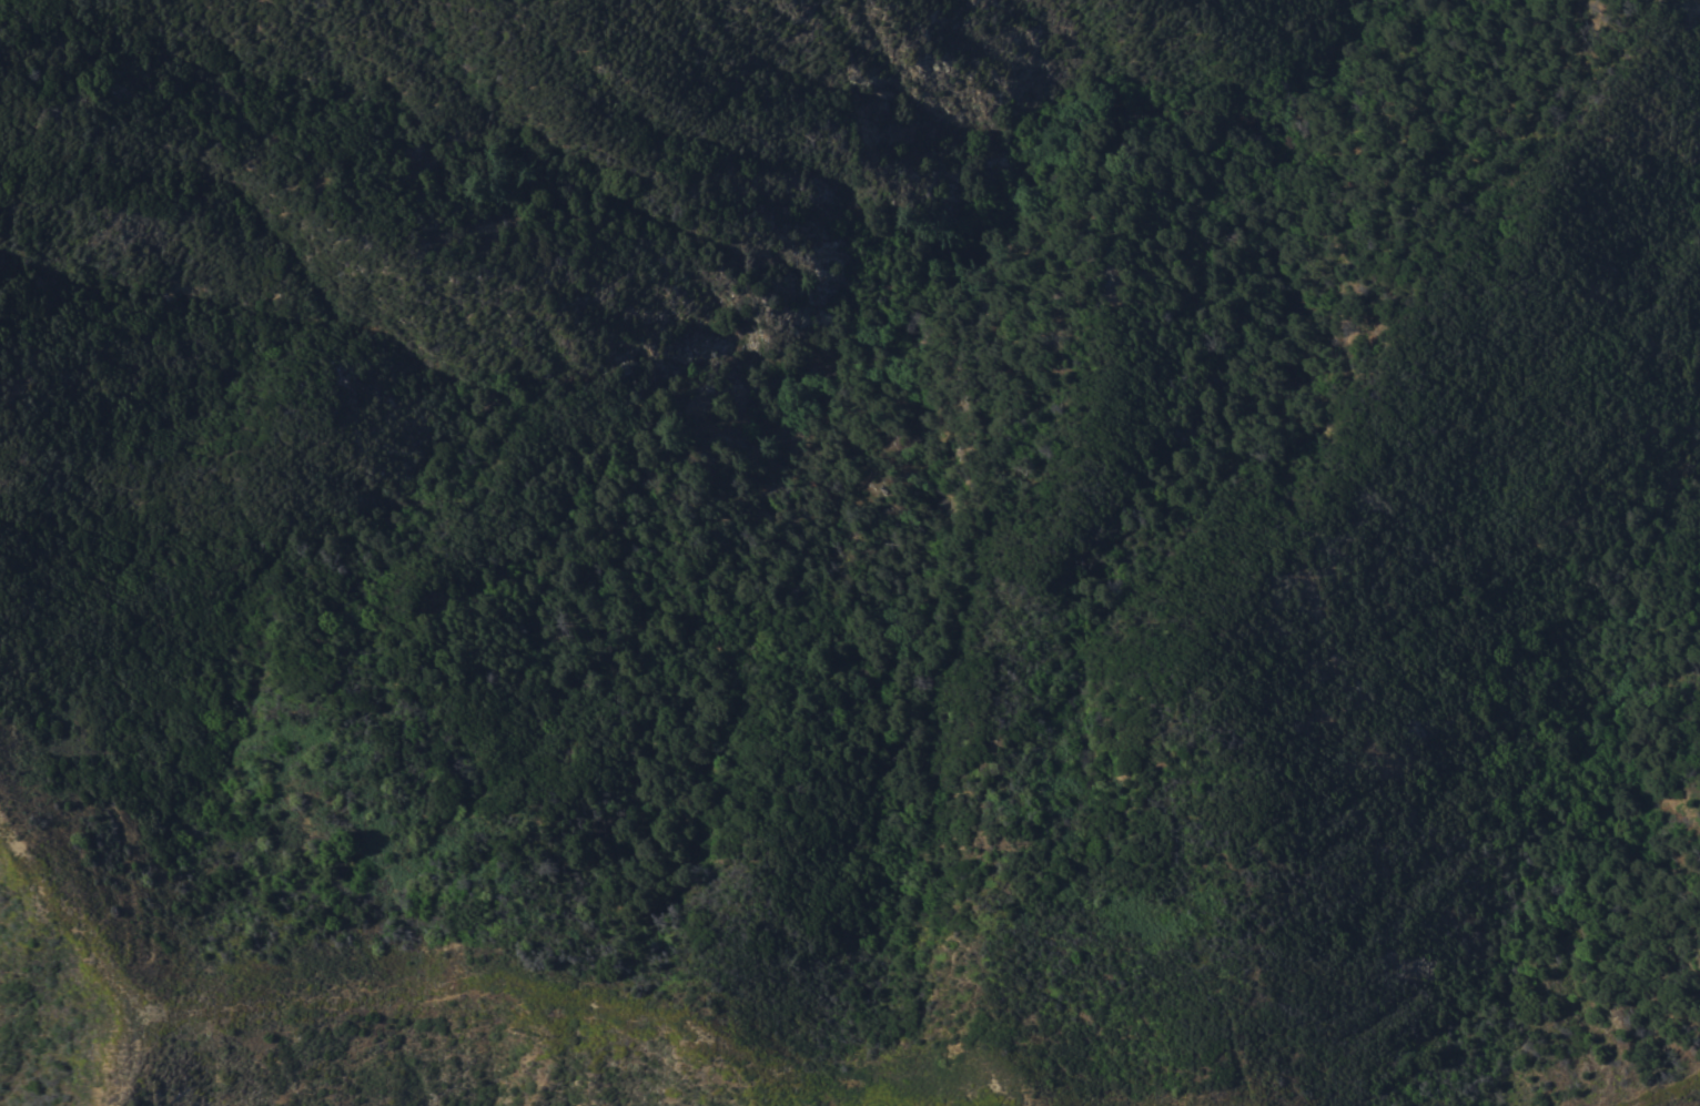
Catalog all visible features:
road: (85, 951)

